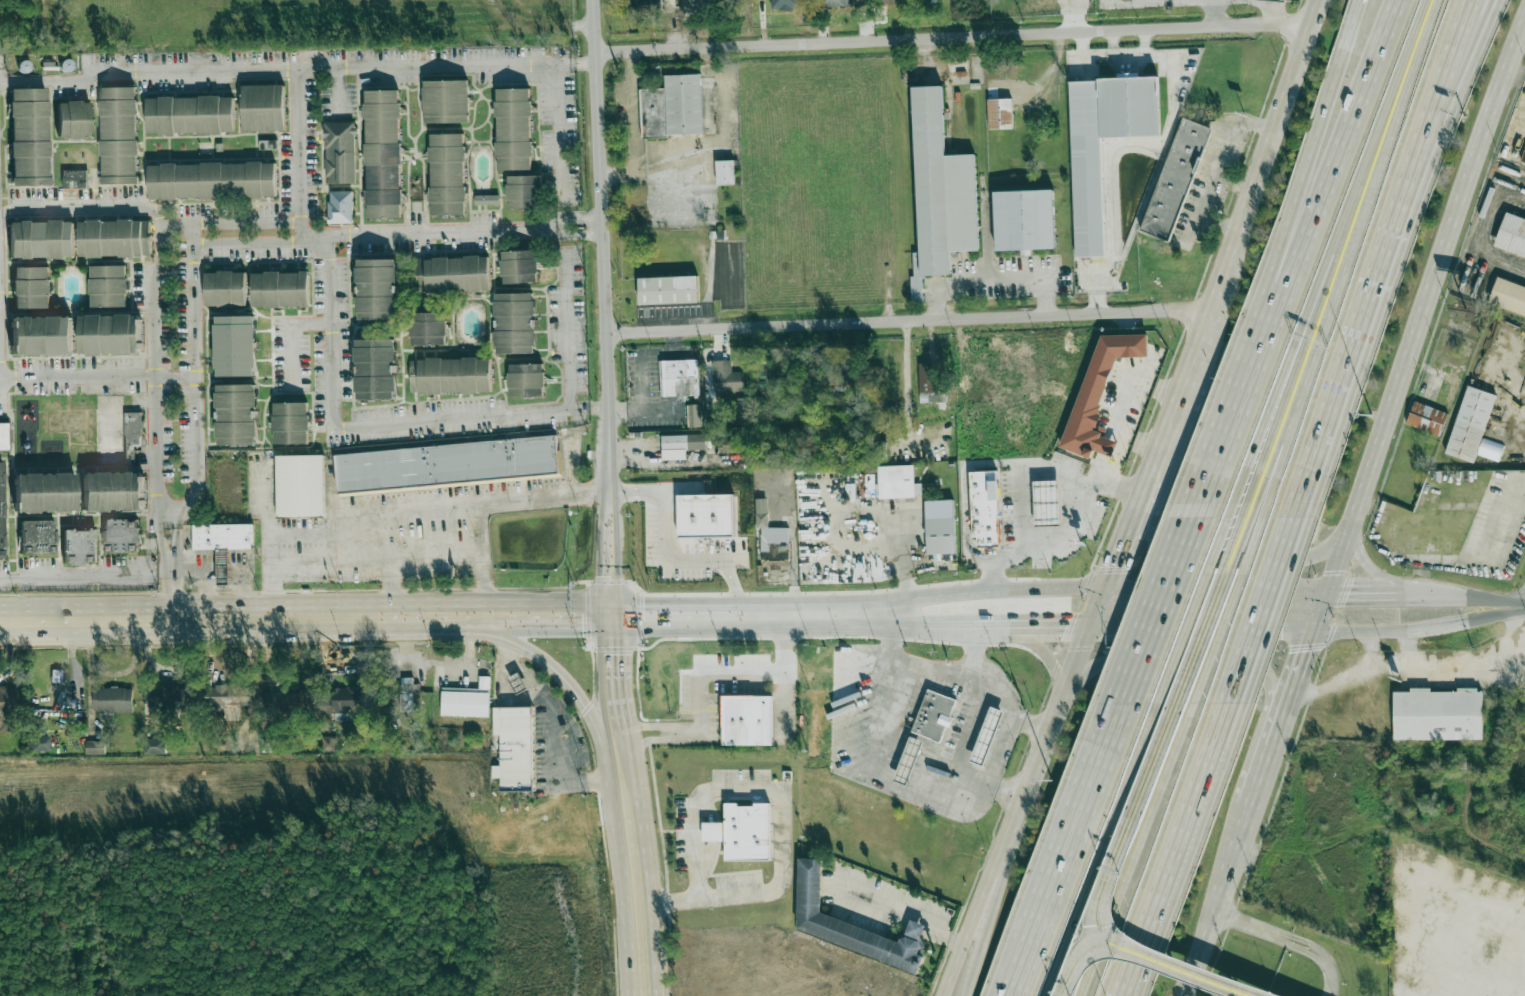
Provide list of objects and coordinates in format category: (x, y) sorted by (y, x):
building: (920, 0)
building: (835, 3)
building: (880, 3)
road: (1275, 3)
building: (704, 4)
building: (785, 4)
road: (1270, 5)
building: (653, 6)
road: (1213, 12)
road: (1072, 16)
road: (546, 23)
road: (950, 36)
road: (1143, 41)
road: (1081, 44)
road: (1112, 44)
road: (1458, 68)
road: (1463, 68)
road: (296, 70)
road: (336, 93)
building: (445, 101)
building: (672, 107)
building: (261, 108)
road: (631, 111)
road: (722, 112)
building: (1000, 114)
building: (189, 115)
building: (72, 120)
building: (512, 129)
building: (117, 135)
road: (561, 135)
building: (28, 137)
road: (1373, 137)
road: (1149, 142)
road: (1317, 151)
road: (1332, 151)
building: (339, 152)
building: (381, 153)
road: (300, 154)
road: (1261, 159)
road: (1216, 164)
road: (1378, 164)
building: (725, 171)
road: (648, 173)
building: (446, 174)
building: (1176, 177)
building: (74, 179)
building: (210, 180)
building: (523, 191)
building: (940, 192)
building: (1087, 196)
building: (486, 199)
road: (85, 207)
building: (340, 207)
road: (581, 219)
building: (1024, 220)
road: (1482, 220)
road: (1218, 222)
road: (431, 232)
road: (986, 234)
road: (581, 235)
building: (1512, 235)
building: (113, 239)
building: (40, 240)
road: (249, 244)
road: (605, 250)
road: (1514, 266)
building: (518, 267)
building: (451, 274)
road: (993, 277)
road: (708, 284)
building: (107, 286)
building: (30, 288)
building: (224, 289)
building: (279, 289)
building: (668, 289)
building: (375, 290)
building: (1508, 296)
road: (155, 300)
road: (1421, 307)
road: (909, 318)
building: (513, 323)
road: (1363, 326)
road: (567, 327)
building: (427, 329)
building: (106, 335)
building: (38, 336)
road: (291, 336)
building: (233, 347)
road: (640, 353)
road: (1196, 363)
building: (373, 370)
building: (884, 373)
road: (197, 375)
building: (449, 376)
building: (838, 376)
building: (680, 377)
building: (726, 377)
road: (98, 378)
building: (525, 381)
building: (929, 384)
building: (1098, 391)
road: (906, 394)
road: (1274, 395)
road: (1282, 396)
road: (645, 408)
road: (589, 409)
building: (739, 410)
road: (1233, 411)
building: (234, 415)
building: (694, 415)
road: (1131, 417)
building: (1426, 418)
road: (1285, 423)
road: (1291, 423)
building: (289, 424)
building: (1470, 424)
road: (354, 427)
building: (132, 433)
building: (4, 437)
building: (734, 443)
building: (681, 445)
road: (570, 460)
road: (660, 464)
road: (978, 464)
building: (449, 465)
road: (1149, 478)
building: (896, 481)
building: (299, 486)
road: (654, 490)
building: (109, 492)
building: (42, 494)
road: (265, 500)
building: (1046, 503)
gas station: (1046, 503)
road: (1022, 506)
building: (984, 507)
road: (416, 510)
building: (1, 512)
building: (705, 515)
road: (170, 516)
road: (483, 524)
building: (940, 526)
road: (1064, 533)
building: (120, 534)
building: (223, 535)
road: (286, 535)
building: (37, 537)
road: (160, 537)
road: (175, 537)
building: (771, 539)
building: (80, 547)
road: (437, 551)
road: (1189, 551)
road: (611, 556)
road: (362, 557)
road: (670, 558)
road: (905, 559)
road: (1368, 563)
building: (222, 565)
traffic signals: (1113, 565)
road: (1110, 569)
road: (77, 574)
road: (486, 580)
road: (390, 583)
road: (733, 583)
road: (171, 587)
traffic signals: (1132, 587)
road: (998, 589)
road: (270, 591)
road: (1212, 592)
road: (1385, 597)
traffic signals: (1348, 598)
road: (1483, 601)
road: (1524, 603)
road: (1094, 606)
road: (1521, 606)
road: (754, 609)
road: (1227, 610)
road: (1261, 610)
road: (1191, 611)
road: (430, 612)
road: (559, 612)
traffic signals: (612, 612)
road: (1158, 612)
road: (479, 613)
road: (1479, 615)
road: (204, 616)
road: (928, 619)
road: (471, 625)
road: (1023, 626)
traffic signals: (1065, 626)
road: (1198, 628)
traffic signals: (1283, 630)
road: (1376, 631)
road: (1408, 646)
road: (1040, 649)
road: (1377, 649)
traffic signals: (1304, 651)
road: (1194, 654)
road: (1415, 659)
road: (1297, 669)
road: (614, 673)
road: (950, 673)
road: (737, 675)
building: (56, 678)
road: (982, 679)
building: (520, 682)
gas station: (520, 682)
road: (573, 685)
building: (407, 693)
building: (228, 695)
building: (180, 697)
building: (469, 699)
building: (108, 700)
building: (344, 701)
building: (291, 702)
building: (6, 710)
building: (1440, 713)
building: (935, 715)
building: (750, 718)
road: (1048, 723)
road: (648, 726)
road: (1168, 728)
road: (555, 731)
road: (1007, 734)
building: (989, 735)
gas station: (989, 735)
road: (648, 738)
road: (1155, 740)
road: (962, 742)
building: (37, 743)
building: (155, 746)
building: (95, 747)
building: (516, 747)
road: (619, 753)
building: (910, 759)
gas station: (910, 759)
road: (876, 766)
road: (1262, 770)
road: (623, 779)
road: (748, 788)
road: (623, 795)
building: (716, 831)
building: (748, 831)
road: (1237, 846)
road: (1134, 849)
road: (1179, 850)
road: (1066, 851)
road: (1101, 851)
road: (635, 898)
road: (977, 908)
road: (986, 908)
road: (904, 912)
building: (849, 925)
road: (1206, 936)
road: (1288, 942)
road: (1075, 951)
road: (1084, 959)
road: (1193, 969)
road: (1183, 974)
road: (1186, 988)
road: (1187, 988)

